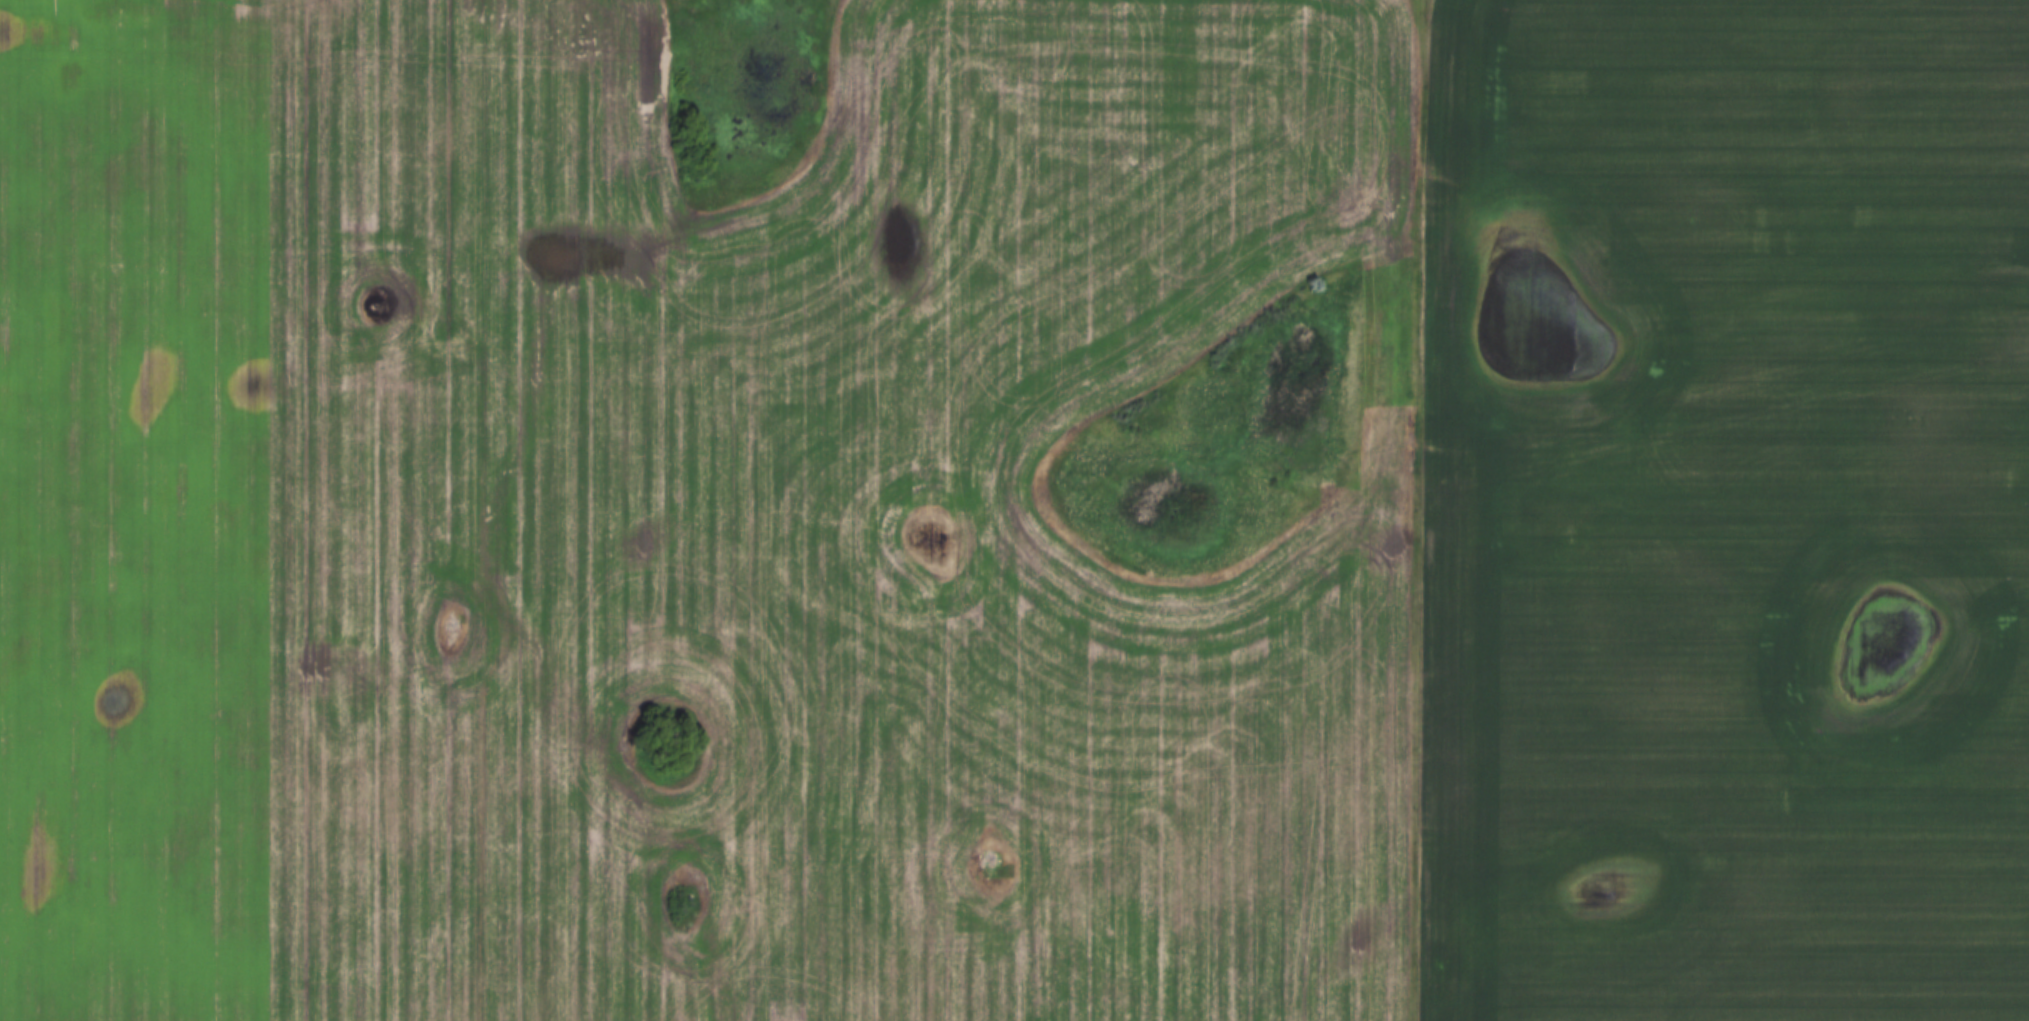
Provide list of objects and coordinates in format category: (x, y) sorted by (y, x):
road: (1423, 510)

